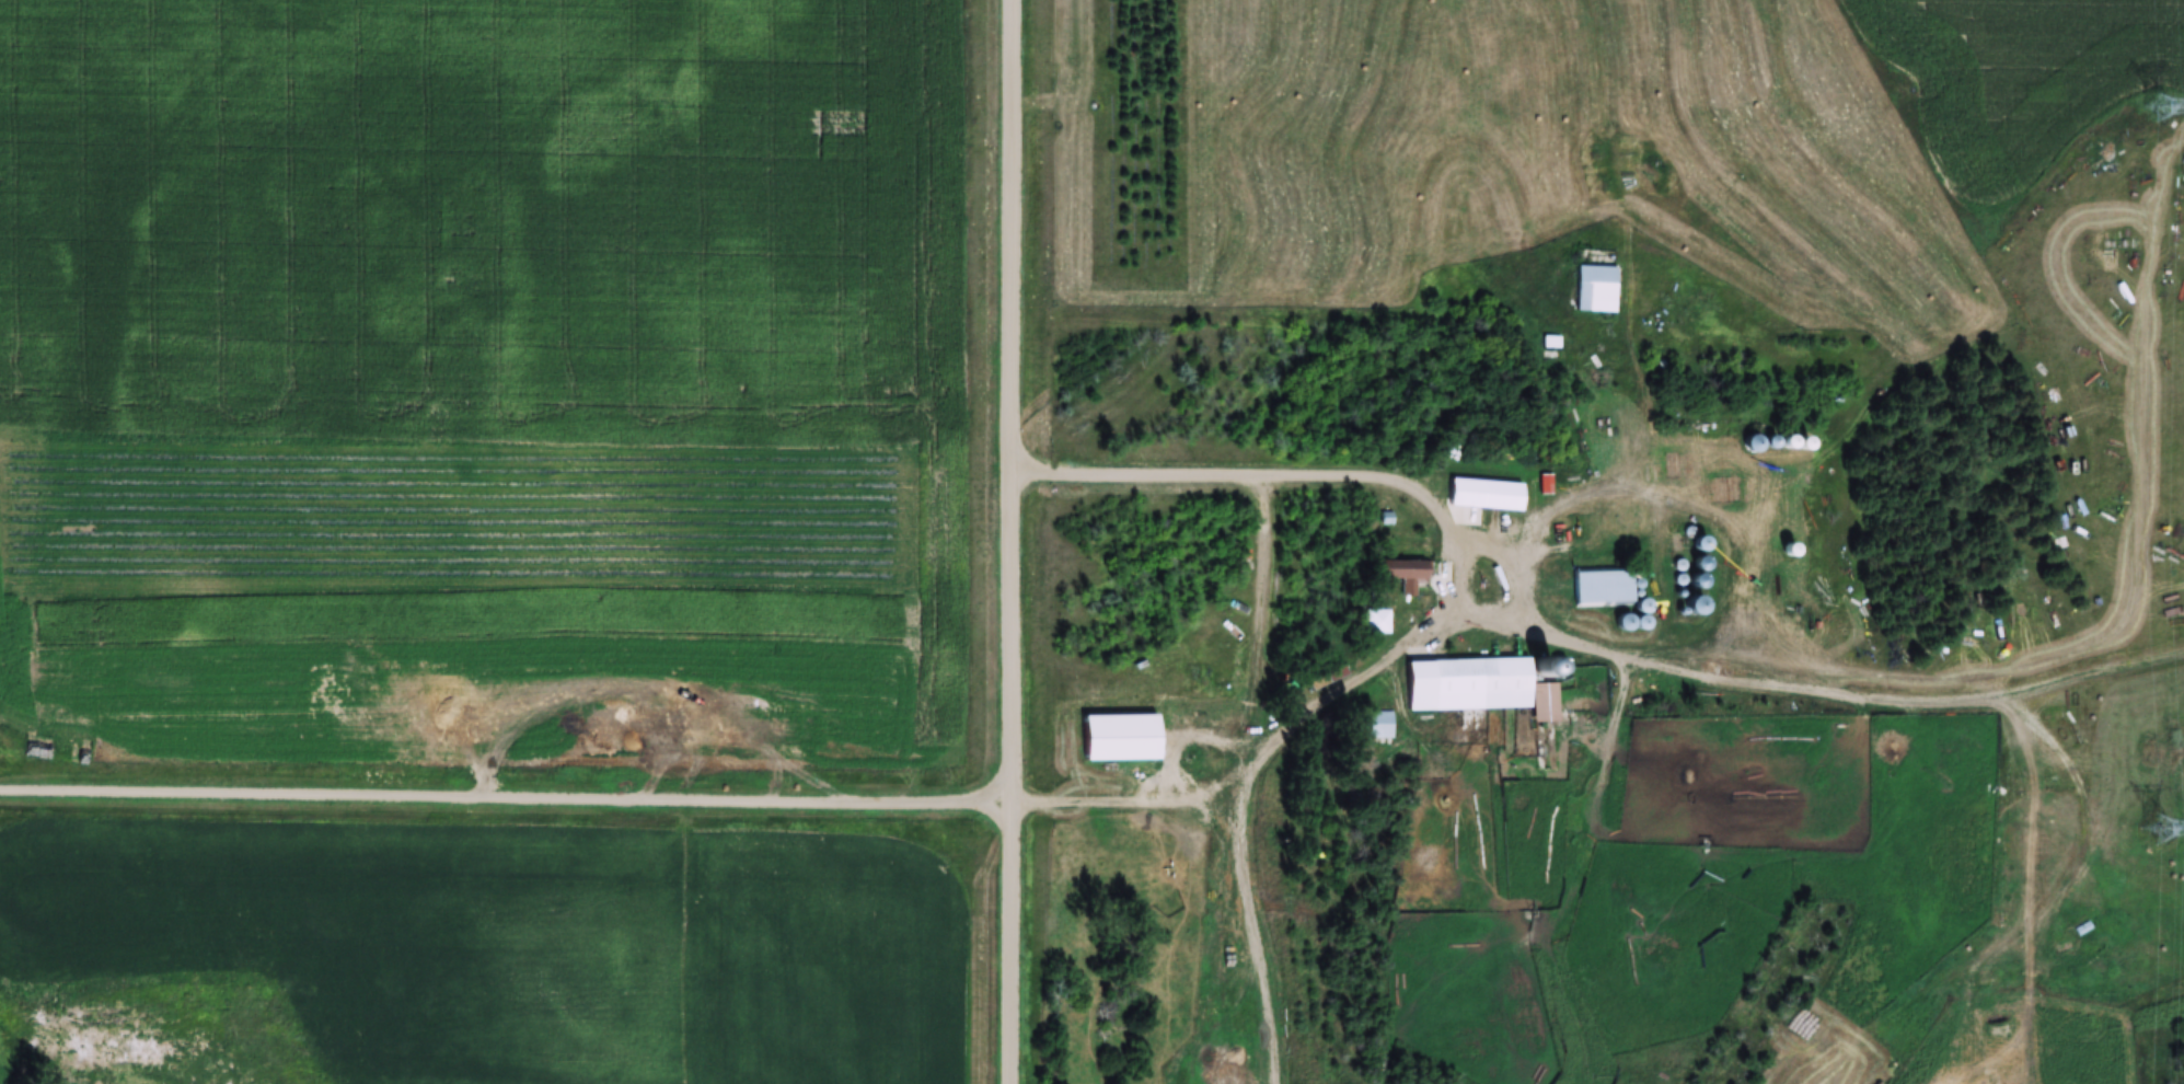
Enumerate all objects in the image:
power tower: (2159, 108)
building: (1594, 284)
building: (1550, 342)
building: (1752, 442)
building: (1669, 465)
building: (1726, 488)
road: (1008, 542)
building: (1406, 574)
building: (1602, 588)
building: (1376, 621)
building: (1544, 670)
building: (1466, 679)
building: (1377, 724)
building: (1116, 731)
road: (505, 797)
power tower: (2158, 833)
building: (1988, 985)

